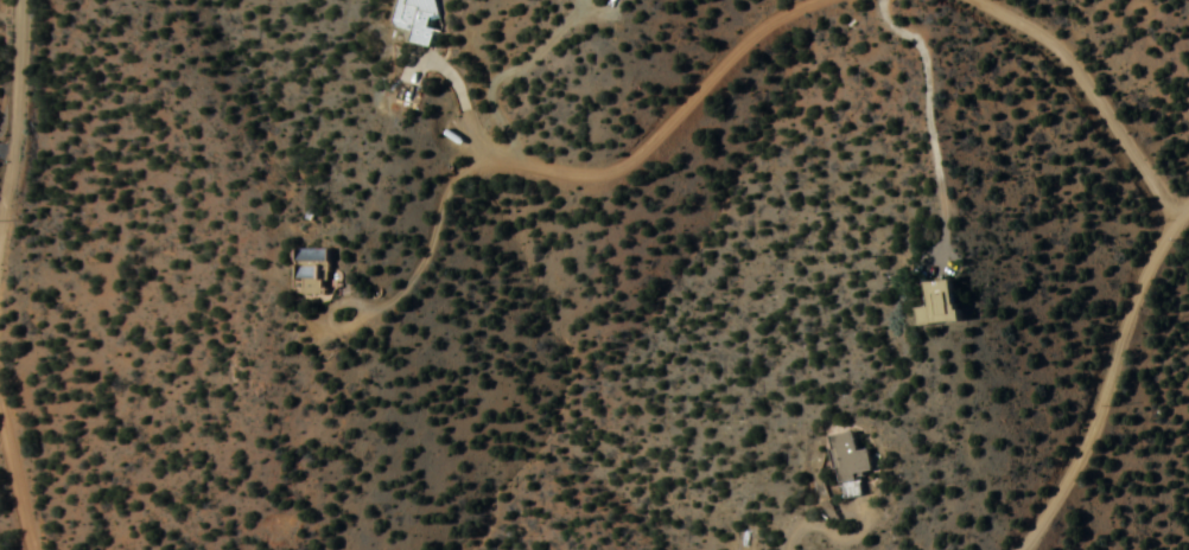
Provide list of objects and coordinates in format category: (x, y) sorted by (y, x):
building: (414, 19)
road: (1083, 88)
road: (14, 97)
road: (642, 137)
road: (7, 149)
road: (458, 175)
building: (309, 271)
building: (937, 303)
road: (1107, 371)
building: (848, 463)
road: (11, 478)

